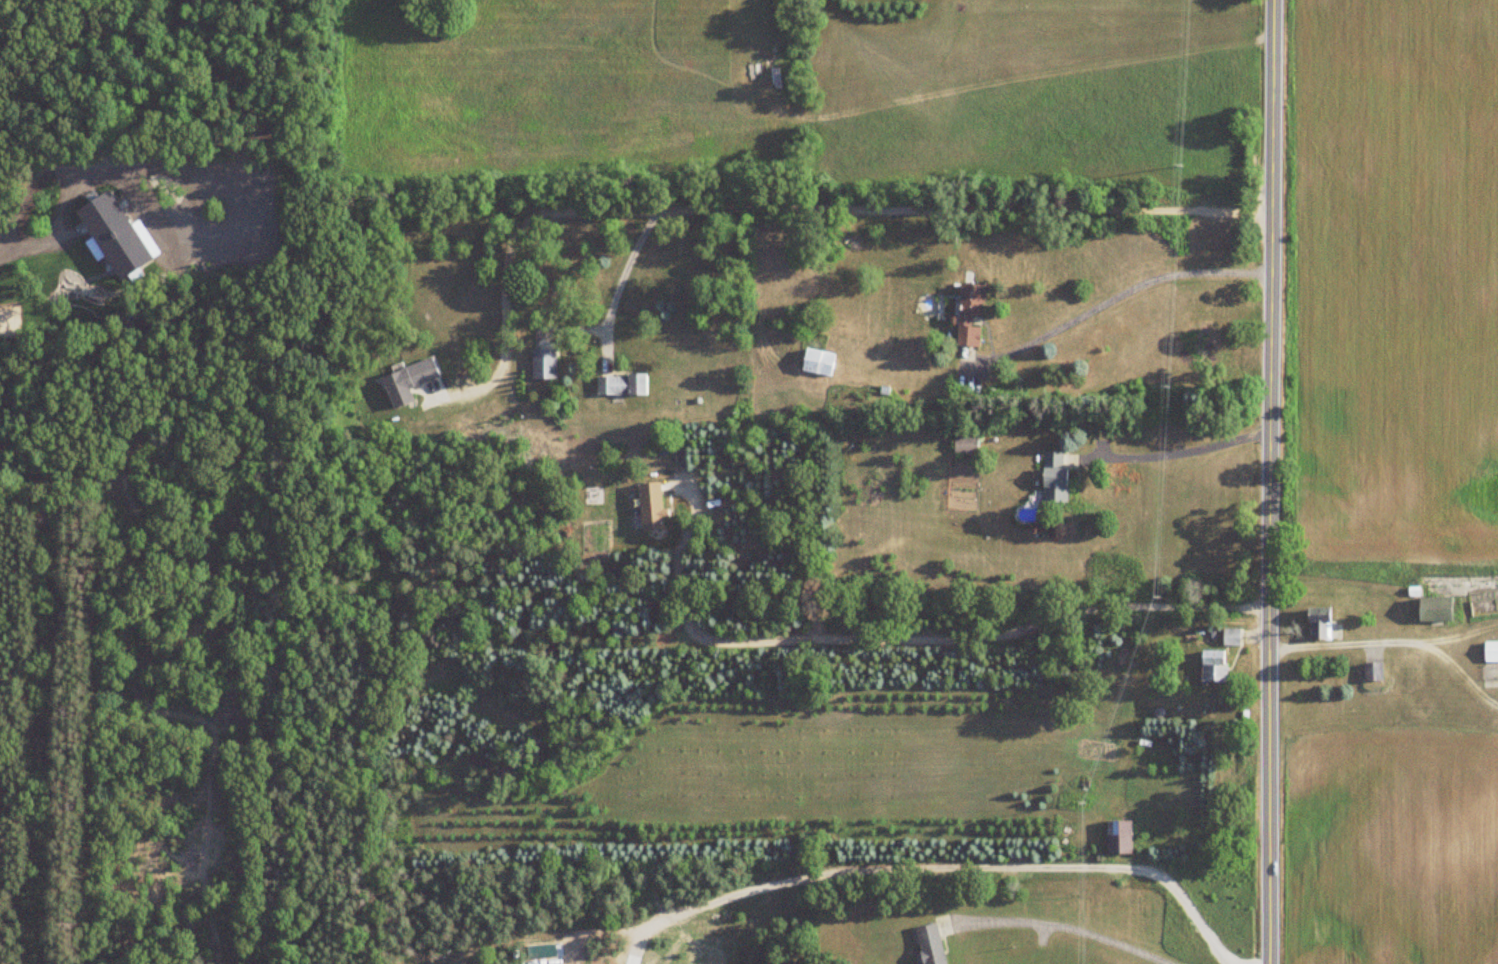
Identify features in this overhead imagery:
road: (800, 205)
road: (629, 274)
road: (1120, 293)
building: (970, 316)
building: (818, 363)
building: (544, 365)
building: (408, 382)
building: (621, 385)
building: (965, 447)
road: (1179, 452)
building: (1053, 477)
road: (1273, 482)
building: (1435, 610)
building: (1319, 625)
road: (1455, 636)
building: (1231, 638)
road: (916, 642)
road: (1342, 643)
building: (1491, 652)
building: (1213, 667)
road: (1457, 668)
building: (1372, 673)
building: (1118, 833)
road: (947, 868)
road: (1062, 927)
building: (929, 945)

